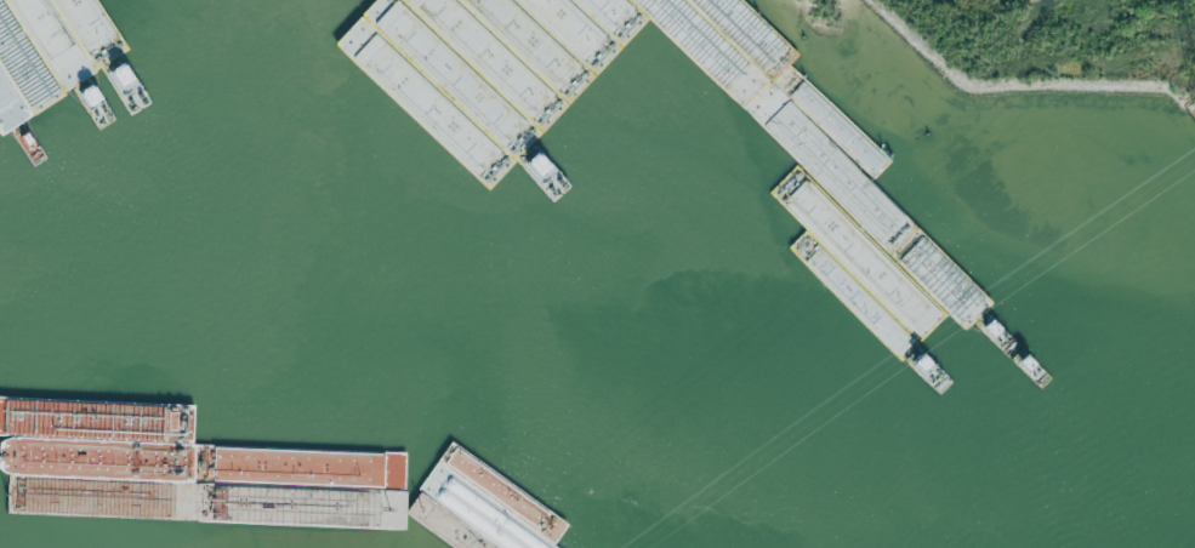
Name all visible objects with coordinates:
landfill: (1054, 55)

